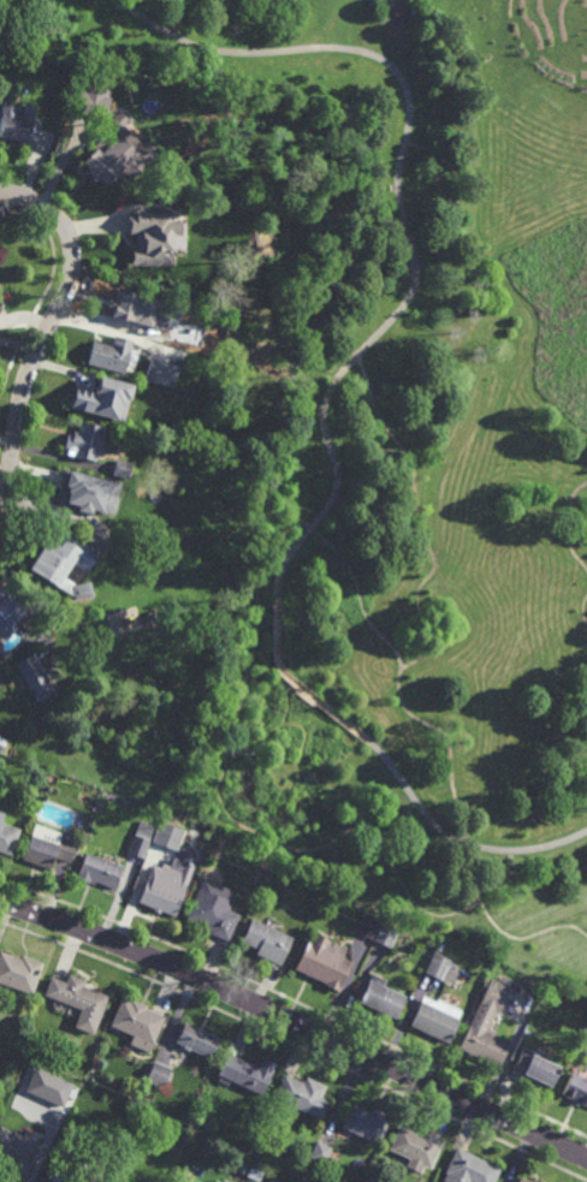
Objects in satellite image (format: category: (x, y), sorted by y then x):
building: (6, 76)
building: (91, 100)
building: (13, 125)
building: (115, 165)
building: (148, 209)
building: (154, 238)
road: (72, 275)
building: (128, 310)
building: (156, 332)
building: (174, 335)
building: (109, 356)
building: (160, 373)
building: (87, 392)
road: (325, 402)
building: (84, 442)
road: (11, 457)
park: (411, 463)
building: (121, 469)
building: (78, 485)
road: (370, 489)
road: (577, 522)
road: (297, 523)
building: (63, 560)
building: (10, 606)
road: (583, 610)
road: (423, 642)
building: (30, 670)
road: (432, 720)
building: (1, 743)
road: (229, 788)
building: (168, 836)
building: (7, 837)
building: (140, 842)
building: (46, 848)
building: (99, 871)
building: (161, 895)
road: (468, 904)
building: (213, 914)
building: (368, 927)
building: (387, 934)
building: (266, 942)
building: (324, 963)
building: (438, 967)
building: (19, 973)
building: (383, 998)
building: (78, 1002)
building: (437, 1020)
road: (296, 1022)
building: (136, 1023)
building: (486, 1028)
building: (196, 1040)
building: (535, 1069)
building: (245, 1074)
building: (158, 1075)
building: (48, 1087)
building: (576, 1091)
building: (303, 1097)
building: (61, 1105)
building: (366, 1124)
building: (183, 1139)
building: (416, 1150)
building: (17, 1152)
building: (320, 1153)
building: (469, 1170)
building: (255, 1171)
building: (73, 1175)
building: (224, 1181)
building: (522, 1181)

